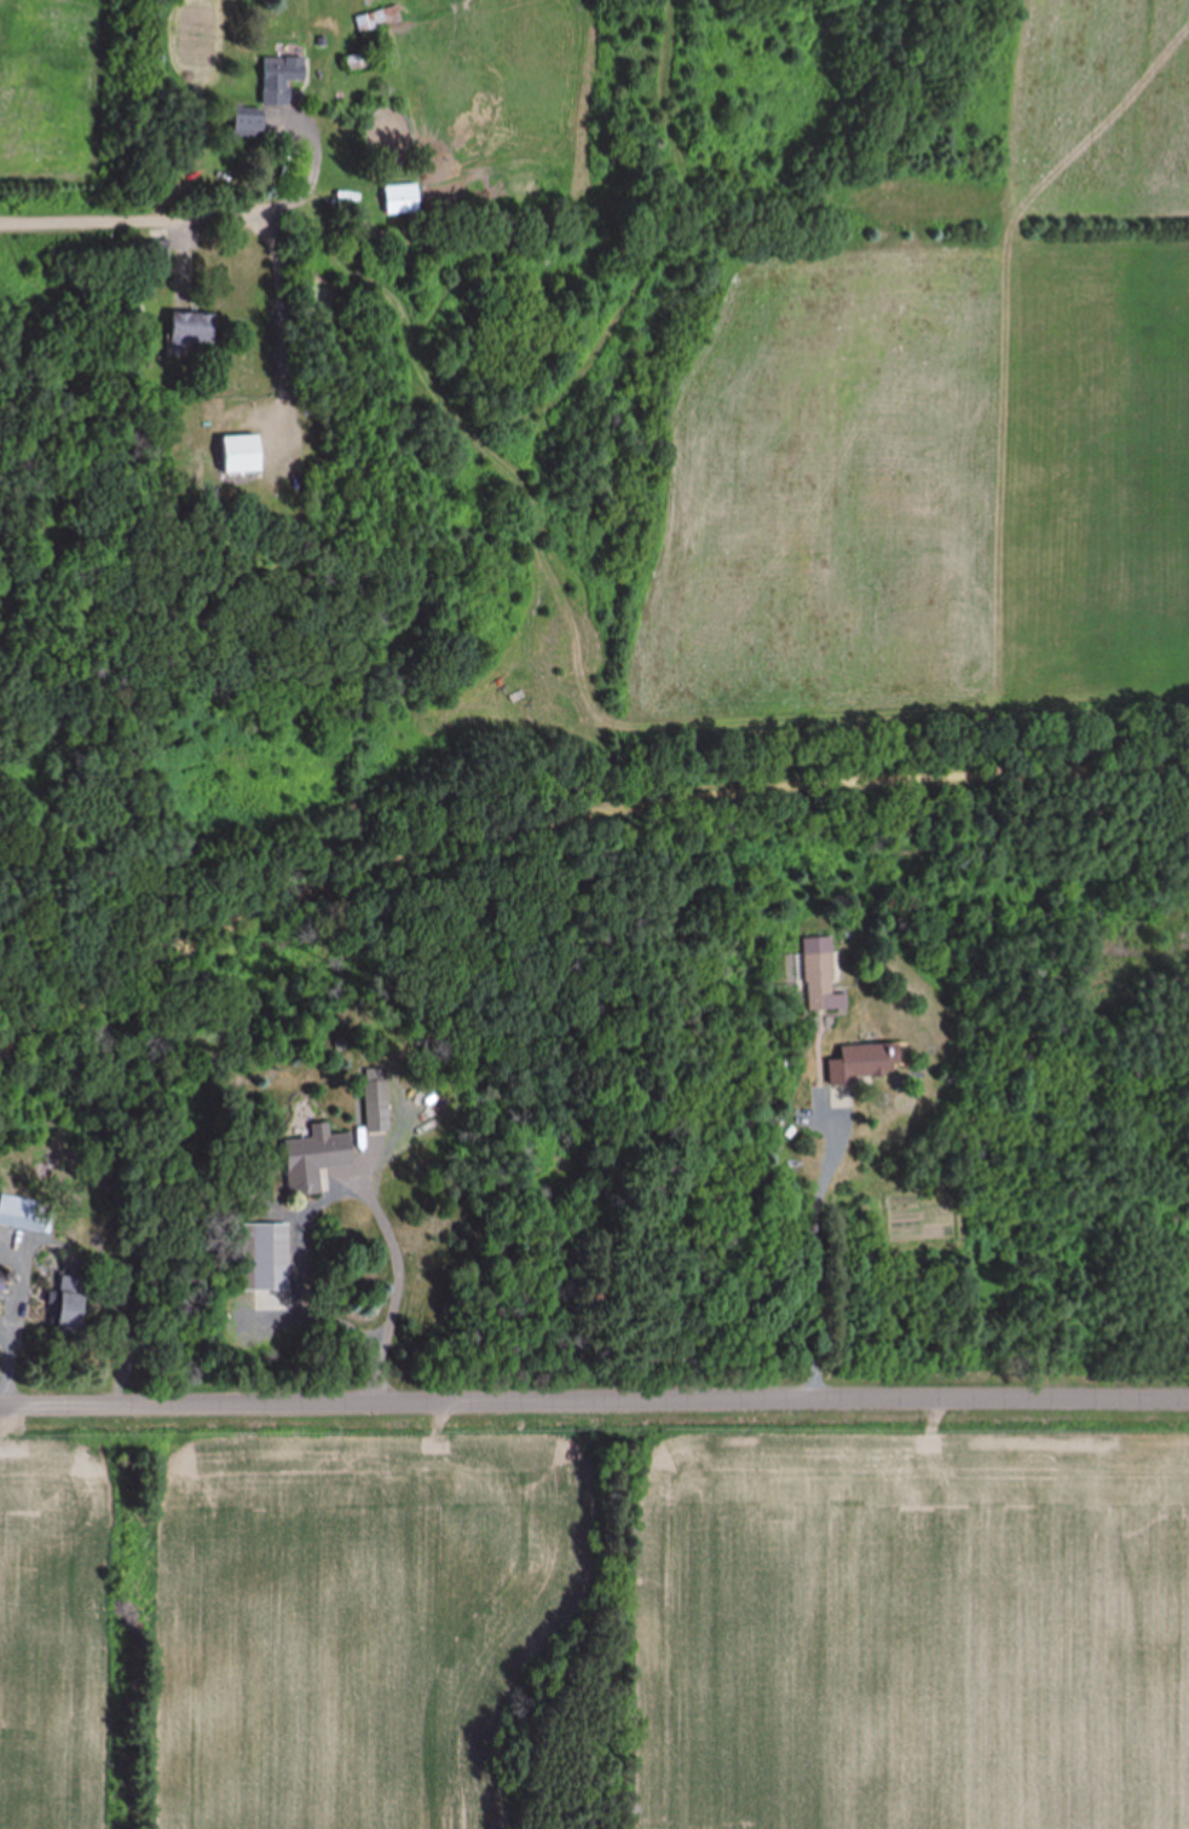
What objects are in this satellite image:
building: (379, 21)
building: (278, 81)
building: (243, 125)
building: (399, 198)
road: (129, 212)
building: (155, 256)
building: (189, 330)
building: (238, 455)
crop: (911, 479)
road: (566, 820)
building: (818, 975)
building: (862, 1063)
building: (376, 1106)
building: (313, 1159)
building: (23, 1214)
building: (265, 1257)
building: (63, 1300)
road: (594, 1396)

